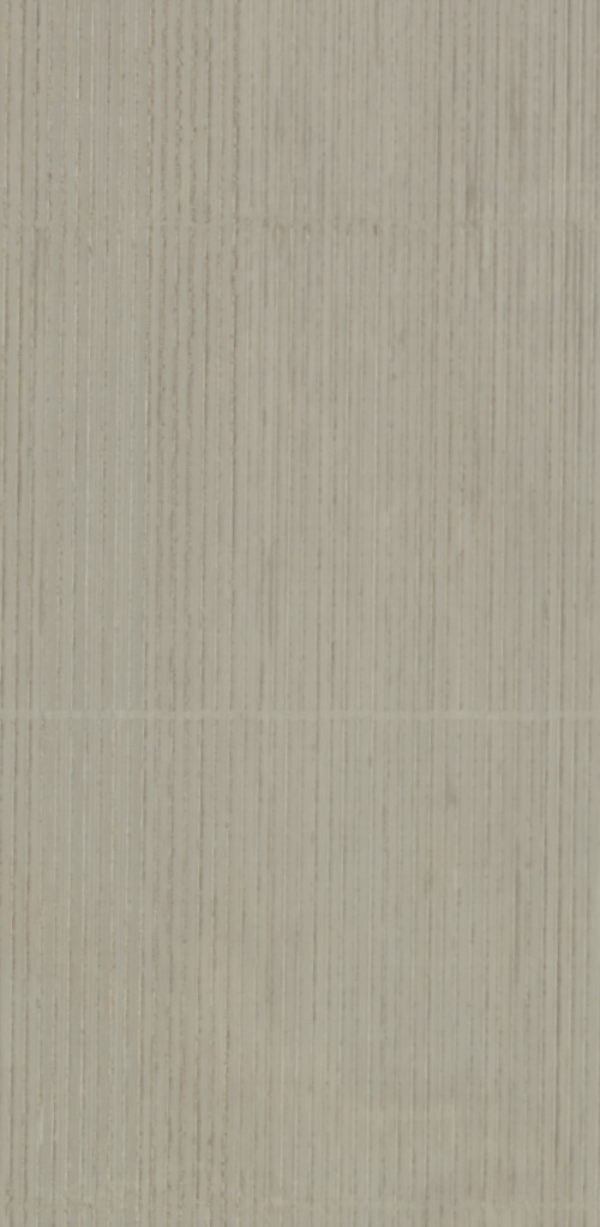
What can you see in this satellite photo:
crop: (300, 613)

